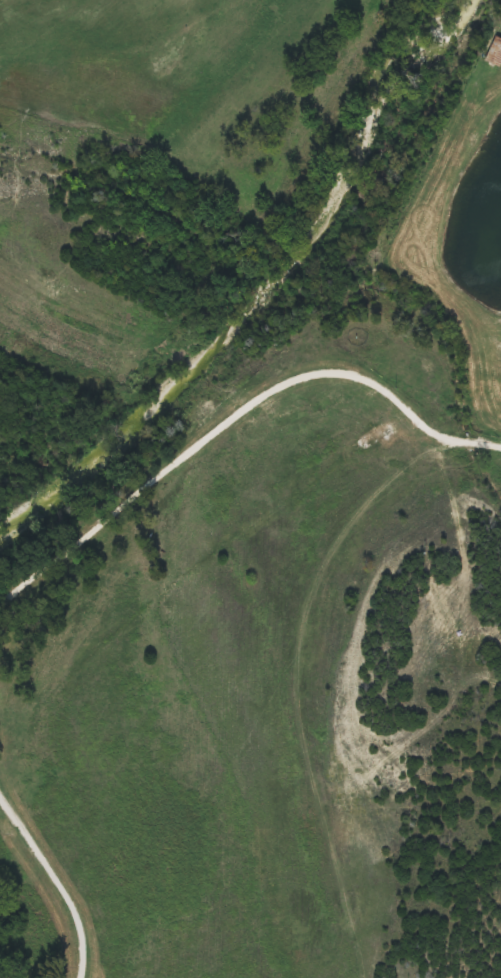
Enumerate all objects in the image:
road: (233, 401)
road: (57, 884)

